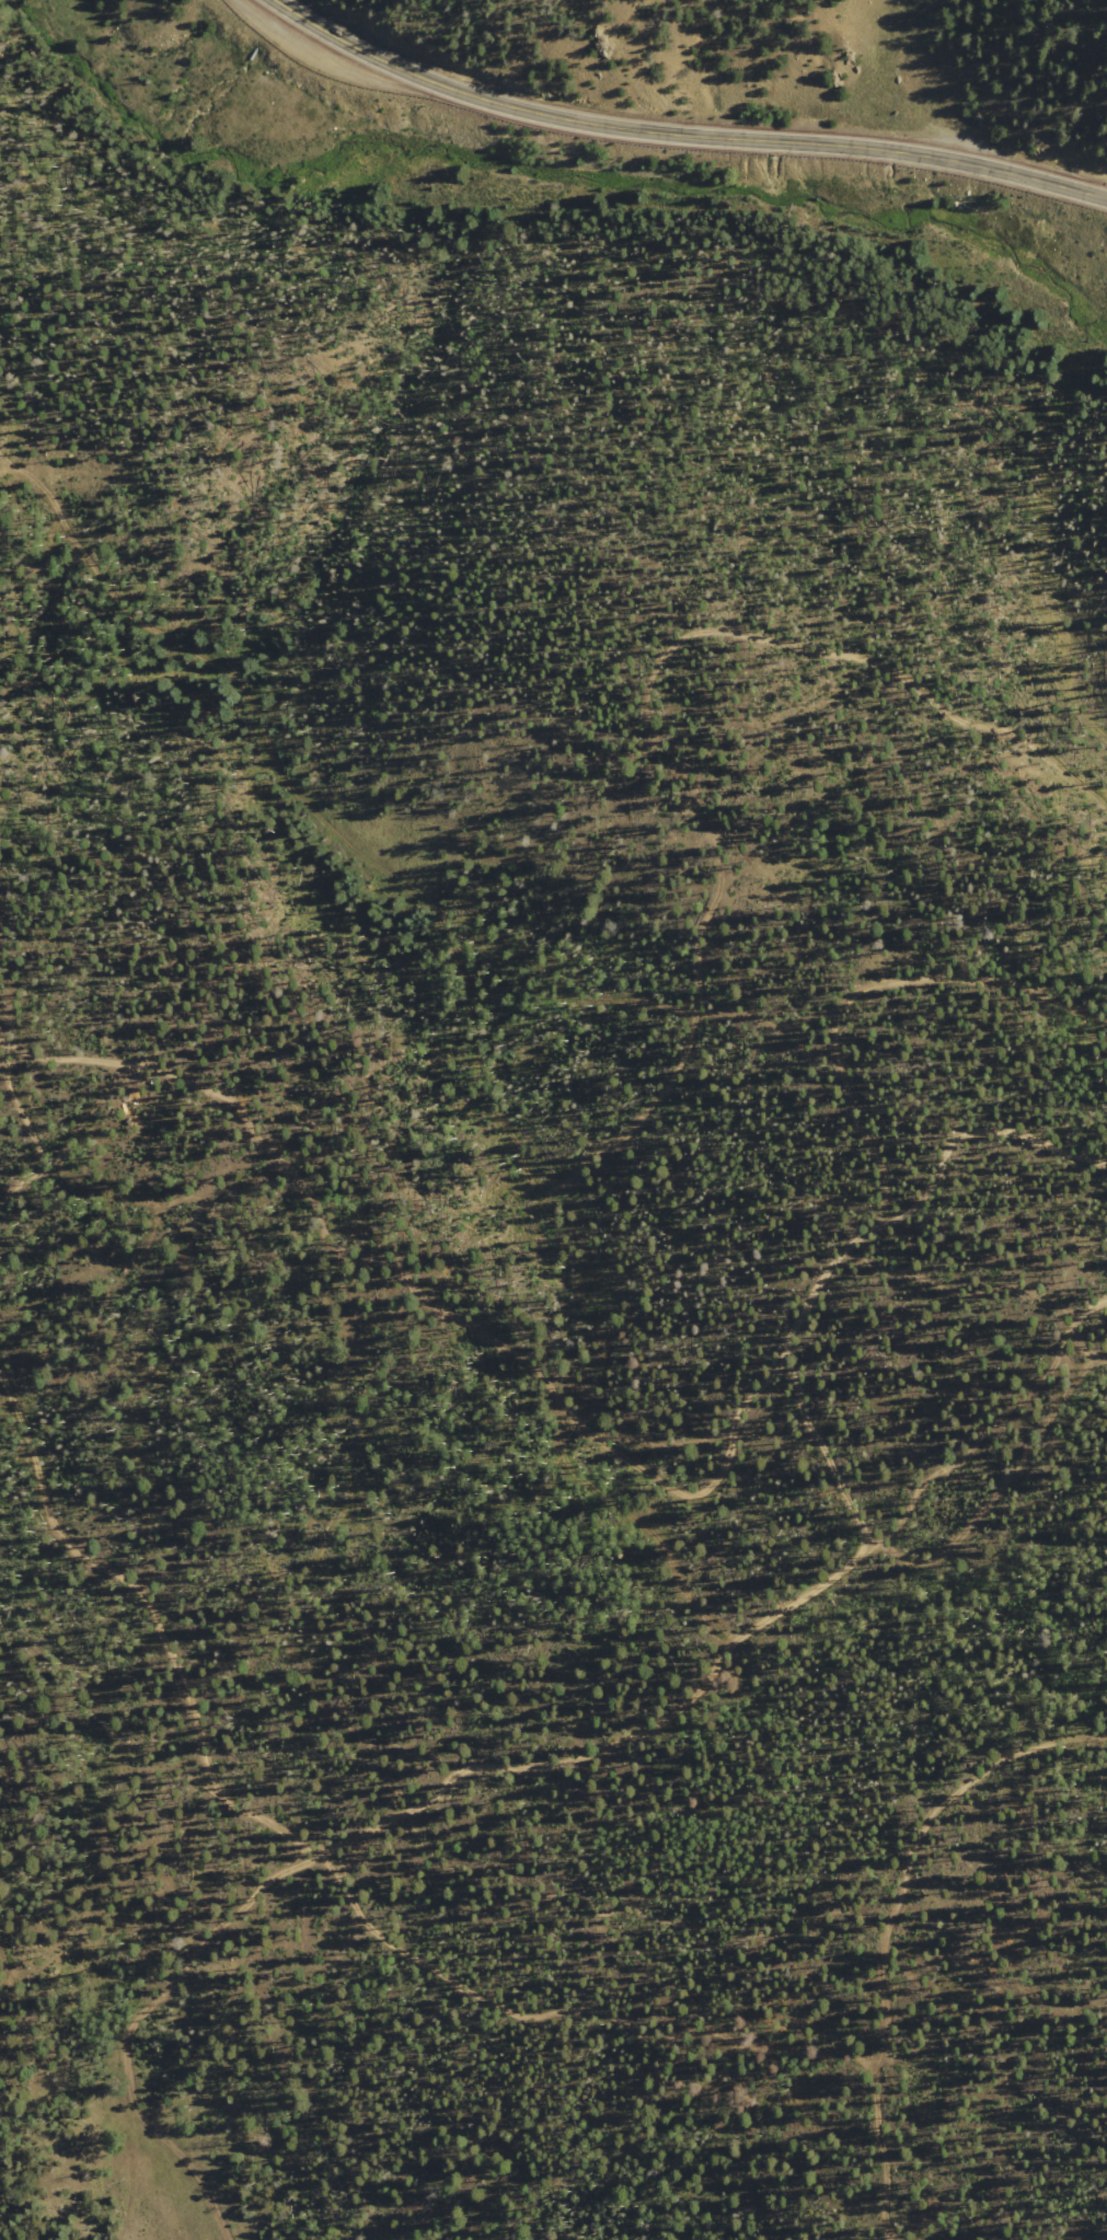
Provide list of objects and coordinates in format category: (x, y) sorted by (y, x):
road: (681, 134)
road: (9, 470)
road: (776, 1028)
road: (864, 1119)
road: (634, 1124)
road: (39, 1140)
park: (561, 1237)
road: (863, 1240)
road: (428, 1284)
road: (1086, 1338)
road: (943, 1456)
road: (356, 1583)
road: (574, 1755)
road: (546, 2007)
road: (992, 2064)
road: (876, 2179)

